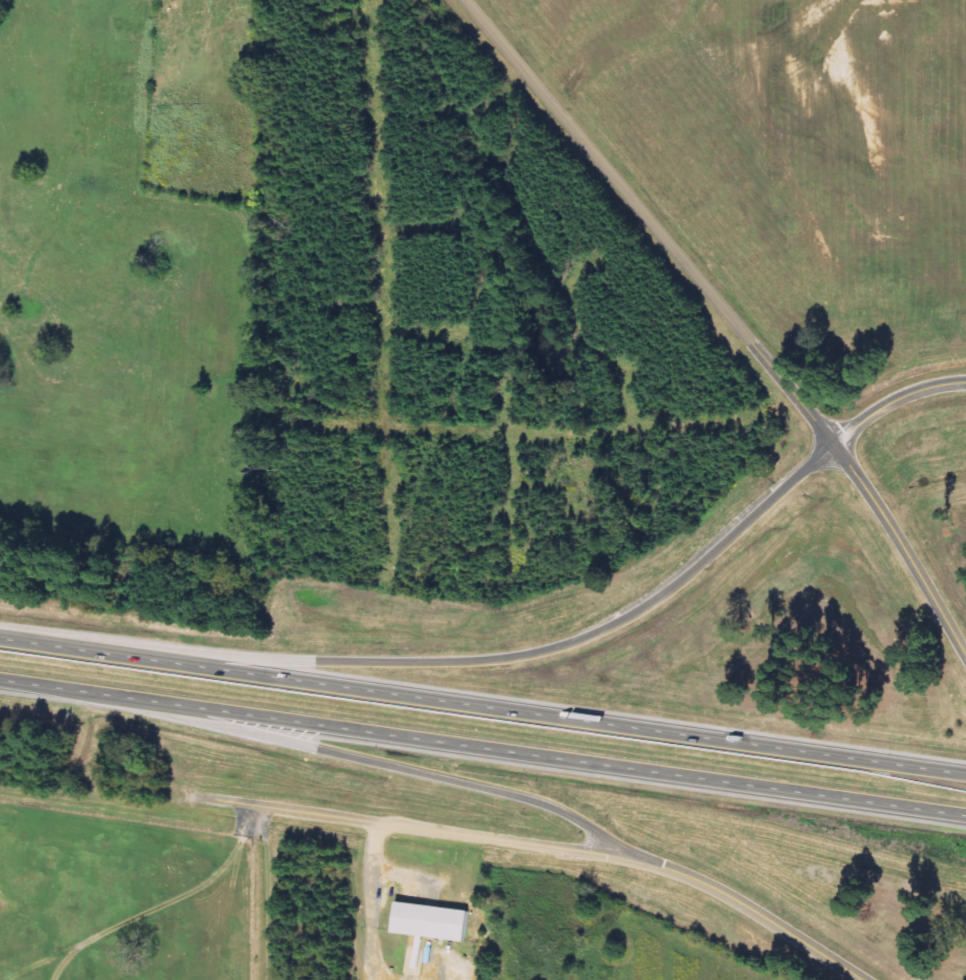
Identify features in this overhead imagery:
road: (728, 314)
road: (895, 399)
road: (487, 658)
road: (482, 705)
road: (482, 749)
road: (375, 761)
road: (431, 830)
road: (765, 918)
building: (429, 921)

